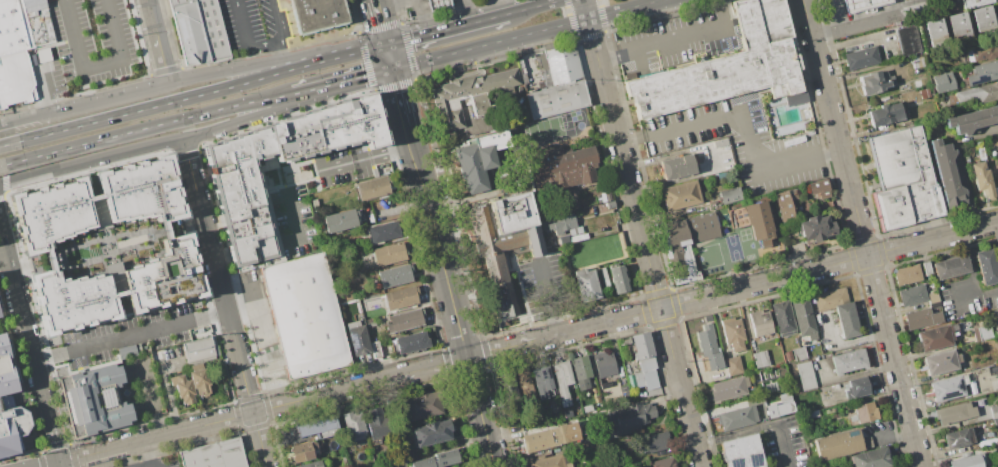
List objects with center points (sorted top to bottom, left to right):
road: (450, 0)
road: (882, 1)
road: (924, 1)
road: (387, 2)
road: (915, 2)
building: (976, 2)
road: (425, 3)
road: (439, 3)
road: (907, 3)
building: (438, 4)
gas station: (438, 4)
building: (861, 4)
road: (897, 4)
road: (856, 5)
road: (911, 5)
road: (498, 7)
road: (532, 7)
road: (884, 8)
road: (469, 11)
road: (840, 12)
building: (319, 15)
road: (859, 15)
road: (422, 17)
building: (982, 19)
road: (381, 21)
road: (855, 21)
parking lot: (253, 25)
building: (957, 25)
road: (446, 29)
building: (200, 30)
building: (934, 31)
road: (175, 33)
road: (527, 33)
building: (907, 39)
road: (159, 40)
road: (675, 40)
parking lot: (678, 40)
parking lot: (90, 41)
traffic signals: (387, 44)
road: (263, 45)
building: (21, 47)
building: (980, 52)
road: (280, 53)
road: (346, 55)
building: (860, 55)
road: (390, 56)
building: (917, 61)
road: (95, 64)
building: (568, 65)
building: (728, 67)
traffic signals: (393, 68)
building: (982, 72)
road: (351, 78)
building: (877, 79)
rooftop solar panel: (981, 81)
building: (942, 82)
road: (150, 86)
road: (302, 91)
building: (978, 92)
building: (473, 93)
building: (556, 99)
building: (478, 103)
road: (161, 104)
building: (486, 107)
building: (885, 111)
building: (972, 120)
road: (157, 124)
road: (745, 124)
building: (329, 129)
building: (997, 135)
road: (9, 143)
parking lot: (741, 143)
road: (158, 145)
road: (623, 153)
building: (477, 159)
road: (11, 161)
building: (676, 166)
building: (559, 169)
road: (91, 170)
building: (947, 173)
building: (904, 176)
building: (983, 179)
road: (4, 181)
building: (819, 187)
building: (372, 189)
building: (243, 194)
building: (728, 194)
building: (680, 195)
building: (783, 206)
road: (200, 208)
building: (511, 212)
road: (429, 213)
building: (339, 220)
building: (758, 222)
building: (564, 224)
building: (815, 228)
building: (383, 231)
road: (862, 233)
building: (533, 240)
rooftop solar panel: (534, 240)
building: (687, 243)
building: (108, 244)
building: (387, 253)
building: (495, 255)
road: (4, 258)
road: (970, 262)
road: (829, 265)
building: (987, 266)
road: (21, 267)
building: (951, 267)
building: (927, 269)
building: (907, 275)
building: (393, 276)
building: (618, 279)
road: (203, 280)
parking lot: (546, 282)
building: (585, 284)
road: (976, 294)
road: (549, 295)
building: (912, 295)
building: (399, 297)
building: (830, 299)
building: (934, 299)
road: (209, 313)
building: (997, 313)
building: (304, 315)
building: (783, 317)
building: (804, 317)
road: (38, 318)
building: (922, 318)
building: (403, 320)
building: (848, 320)
building: (761, 323)
building: (984, 332)
road: (564, 333)
road: (131, 334)
building: (734, 334)
building: (357, 338)
building: (936, 338)
building: (706, 340)
road: (30, 342)
building: (411, 342)
building: (199, 348)
building: (126, 351)
building: (800, 354)
road: (51, 355)
building: (761, 359)
building: (643, 361)
building: (849, 361)
building: (714, 362)
building: (942, 362)
building: (603, 363)
building: (733, 365)
building: (6, 369)
road: (20, 371)
building: (580, 371)
road: (242, 372)
building: (806, 375)
building: (770, 378)
building: (198, 379)
building: (561, 379)
building: (541, 380)
building: (523, 381)
building: (509, 385)
rooftop solar panel: (959, 385)
road: (681, 387)
building: (948, 387)
building: (182, 388)
building: (729, 388)
building: (857, 388)
rooftop solar panel: (949, 395)
rooftop solar panel: (107, 398)
building: (93, 400)
building: (760, 400)
building: (5, 401)
building: (423, 404)
building: (779, 406)
rooftop solar panel: (69, 409)
road: (264, 410)
building: (994, 410)
road: (481, 412)
building: (863, 413)
building: (954, 413)
building: (629, 417)
building: (737, 417)
road: (153, 422)
building: (376, 424)
building: (353, 425)
building: (317, 427)
building: (11, 428)
building: (431, 433)
building: (550, 437)
building: (959, 438)
building: (656, 441)
building: (988, 442)
parking lot: (786, 443)
building: (838, 444)
road: (58, 446)
building: (583, 446)
road: (41, 449)
road: (784, 449)
building: (303, 450)
building: (741, 452)
road: (145, 454)
building: (214, 454)
road: (73, 455)
building: (871, 459)
road: (42, 460)
building: (436, 460)
building: (551, 460)
rooftop solar panel: (752, 461)
building: (662, 462)
building: (966, 462)
road: (50, 464)
road: (61, 464)
building: (309, 464)
rooftop solar panel: (732, 465)

